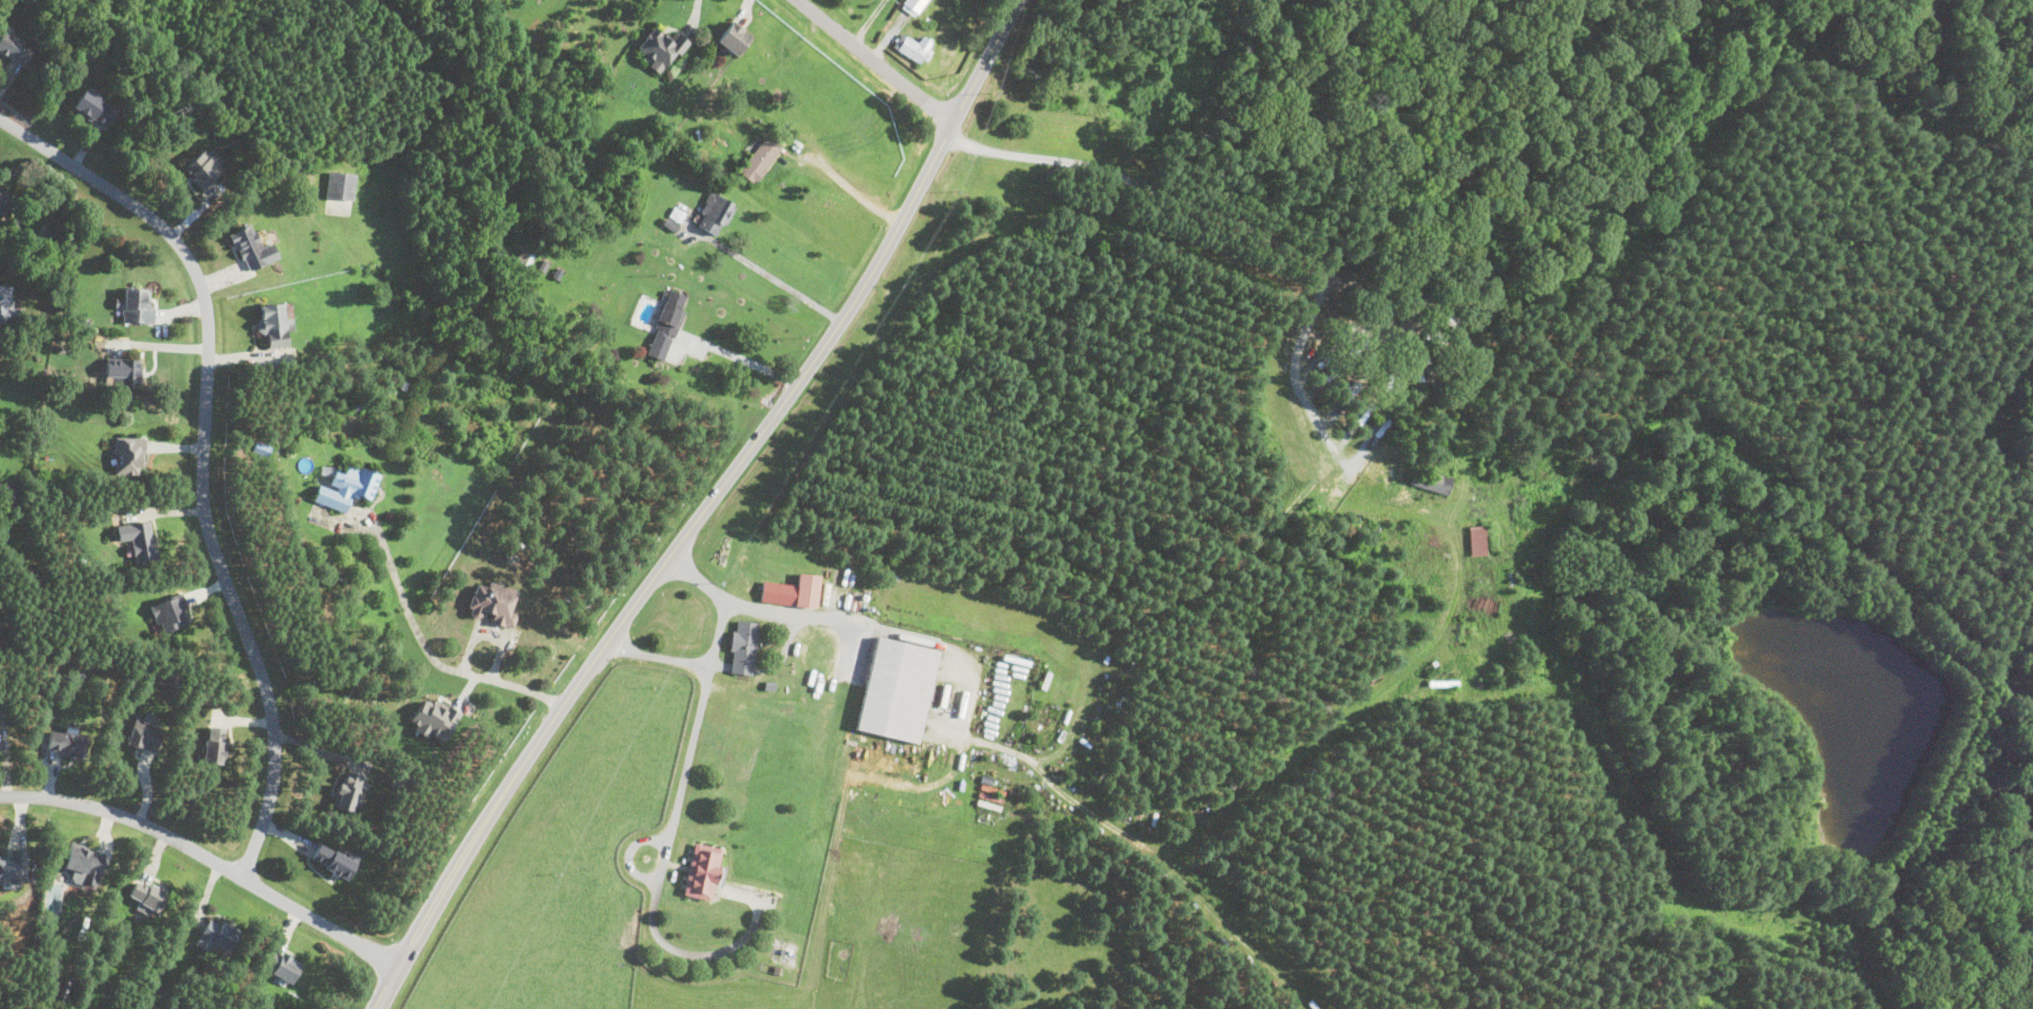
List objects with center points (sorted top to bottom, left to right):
building: (912, 5)
road: (694, 13)
road: (868, 21)
building: (733, 37)
building: (914, 46)
building: (15, 48)
building: (660, 48)
road: (875, 60)
building: (94, 107)
building: (759, 158)
building: (202, 168)
building: (340, 185)
road: (846, 190)
building: (1, 198)
building: (714, 213)
road: (1241, 217)
building: (252, 248)
road: (766, 272)
building: (5, 303)
building: (136, 304)
building: (672, 311)
building: (273, 323)
road: (159, 342)
road: (739, 357)
building: (125, 371)
building: (261, 448)
road: (203, 452)
building: (129, 454)
building: (1430, 481)
building: (347, 486)
road: (704, 508)
building: (138, 539)
building: (1477, 540)
building: (793, 590)
road: (726, 598)
building: (493, 603)
building: (170, 612)
road: (793, 612)
building: (743, 646)
road: (425, 647)
building: (896, 688)
building: (433, 718)
building: (144, 734)
building: (66, 742)
building: (214, 743)
building: (348, 789)
road: (673, 815)
road: (208, 855)
building: (332, 860)
building: (85, 864)
building: (14, 866)
building: (702, 870)
building: (147, 895)
building: (217, 934)
building: (280, 964)

